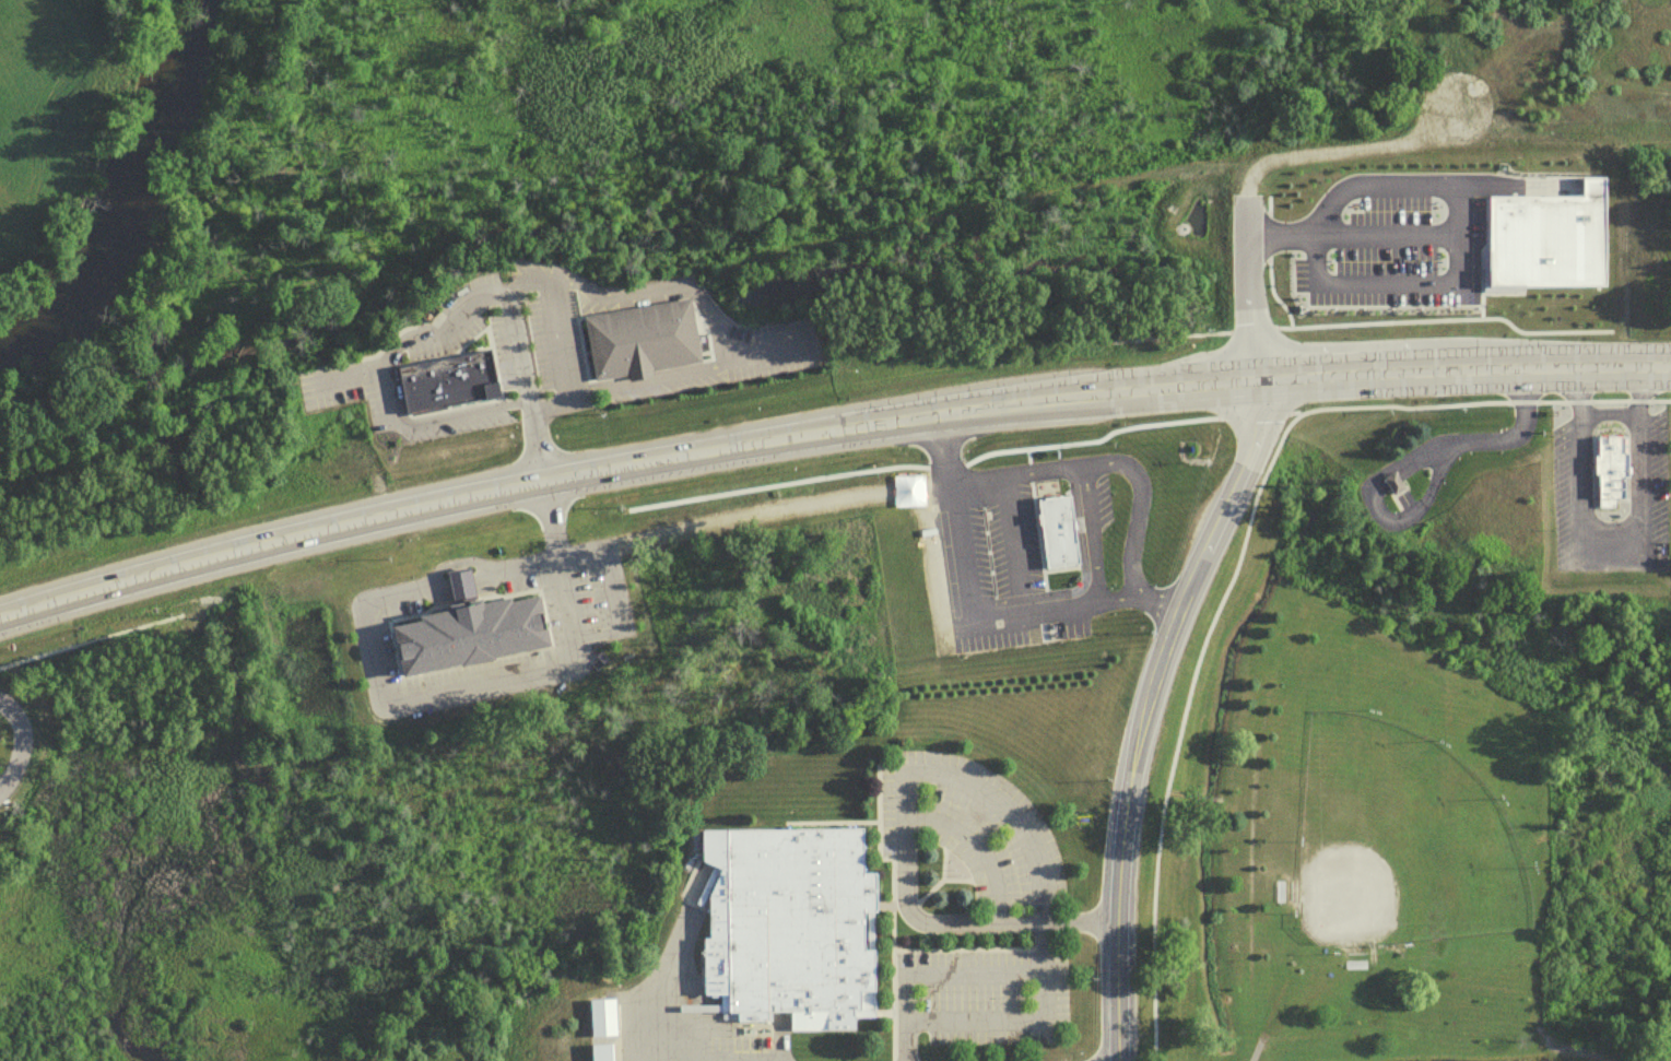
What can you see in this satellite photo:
road: (1409, 184)
river: (130, 205)
road: (1246, 215)
building: (1338, 232)
road: (1386, 233)
building: (1544, 240)
road: (1270, 263)
road: (521, 284)
road: (495, 287)
road: (623, 293)
road: (1481, 306)
road: (1392, 320)
building: (638, 338)
building: (446, 378)
road: (1395, 380)
road: (396, 388)
road: (1295, 411)
road: (1252, 412)
road: (432, 417)
road: (1608, 417)
flagpole: (1399, 425)
road: (1090, 438)
flagpole: (1389, 444)
road: (1026, 459)
road: (1106, 460)
road: (1578, 460)
road: (1637, 460)
road: (944, 463)
road: (1401, 464)
building: (1612, 472)
road: (772, 482)
road: (554, 485)
building: (1396, 491)
building: (1056, 530)
road: (1011, 544)
road: (1608, 547)
road: (1237, 549)
road: (355, 558)
road: (424, 574)
road: (1080, 578)
road: (614, 608)
road: (978, 622)
building: (467, 629)
road: (52, 646)
road: (1478, 708)
road: (1149, 711)
road: (21, 740)
park: (1410, 827)
road: (905, 833)
park: (1403, 845)
road: (978, 850)
building: (1282, 897)
building: (790, 932)
building: (1357, 970)
road: (935, 980)
road: (662, 988)
road: (1274, 1016)
building: (603, 1024)
road: (1025, 1027)
road: (1259, 1051)

